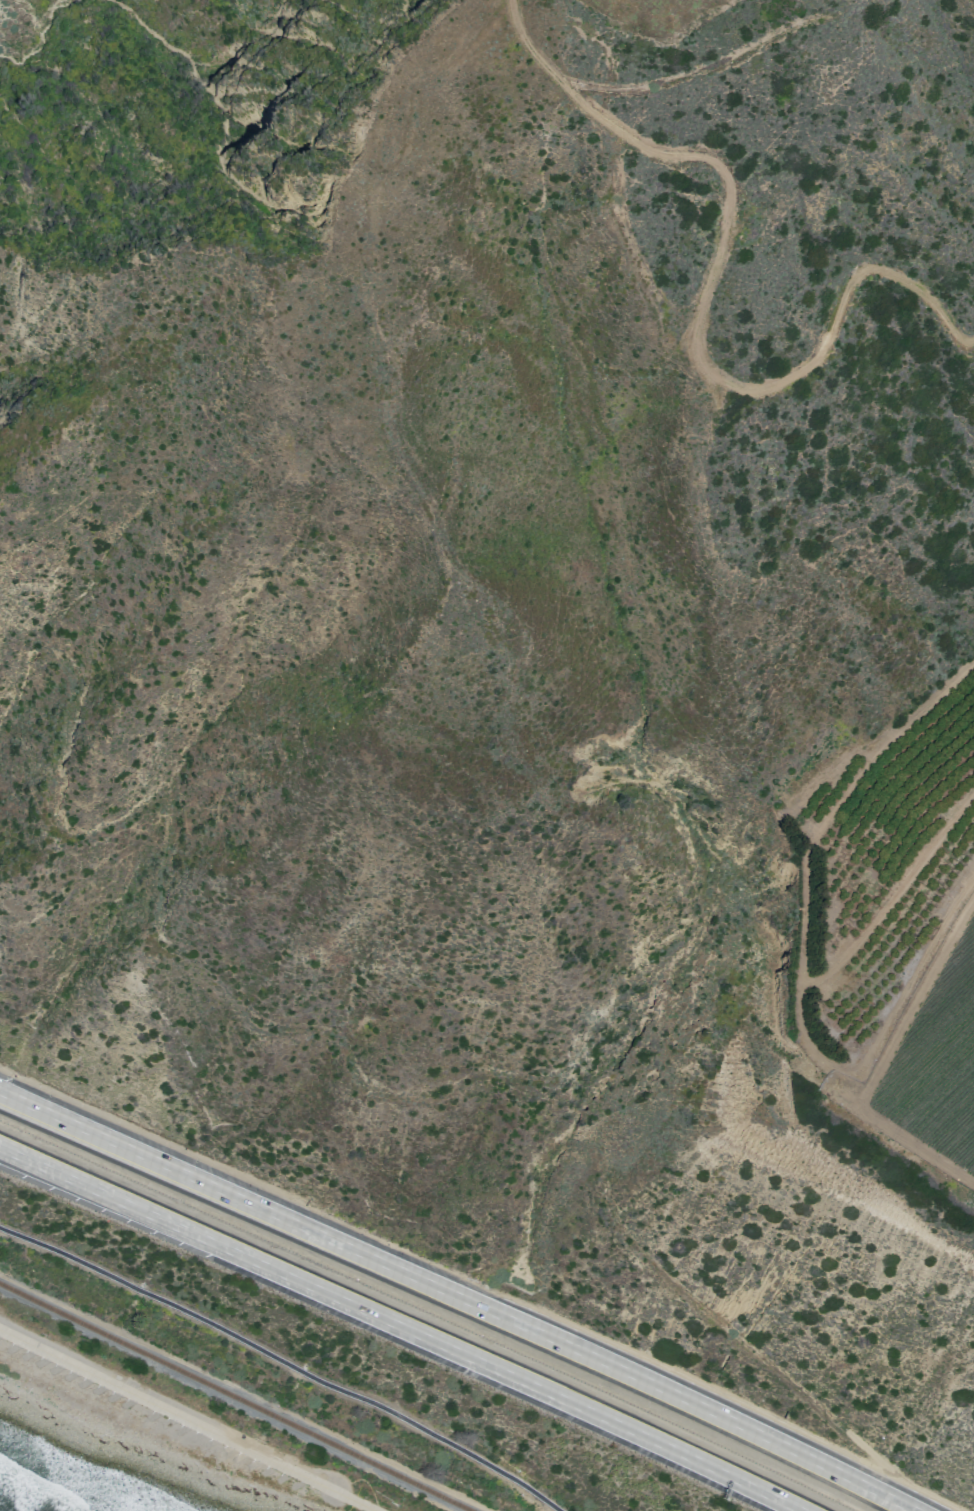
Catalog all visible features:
road: (702, 310)
road: (891, 894)
road: (800, 962)
road: (881, 1060)
crop: (937, 1061)
road: (34, 1107)
road: (34, 1111)
road: (59, 1175)
road: (59, 1178)
road: (491, 1313)
road: (460, 1352)
road: (285, 1361)
railway: (235, 1397)
road: (188, 1417)
park: (179, 1420)

